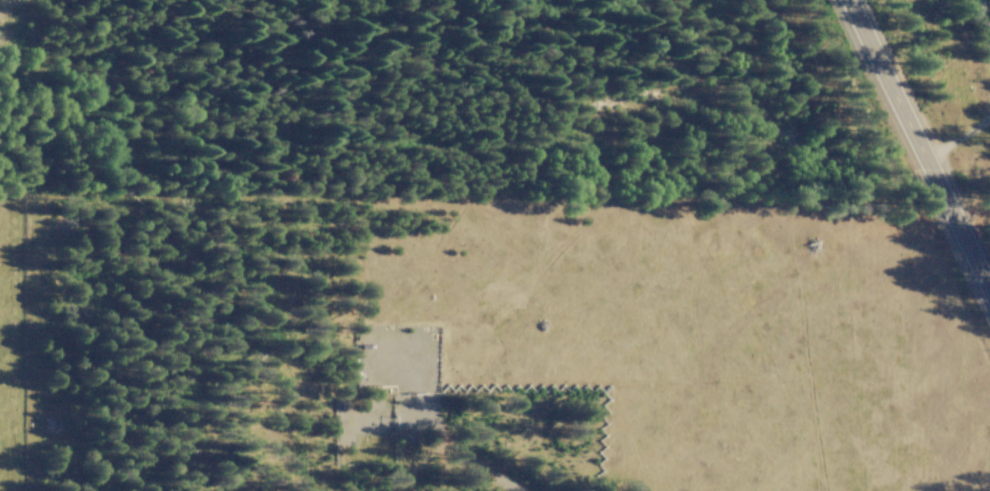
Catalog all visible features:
road: (918, 148)

